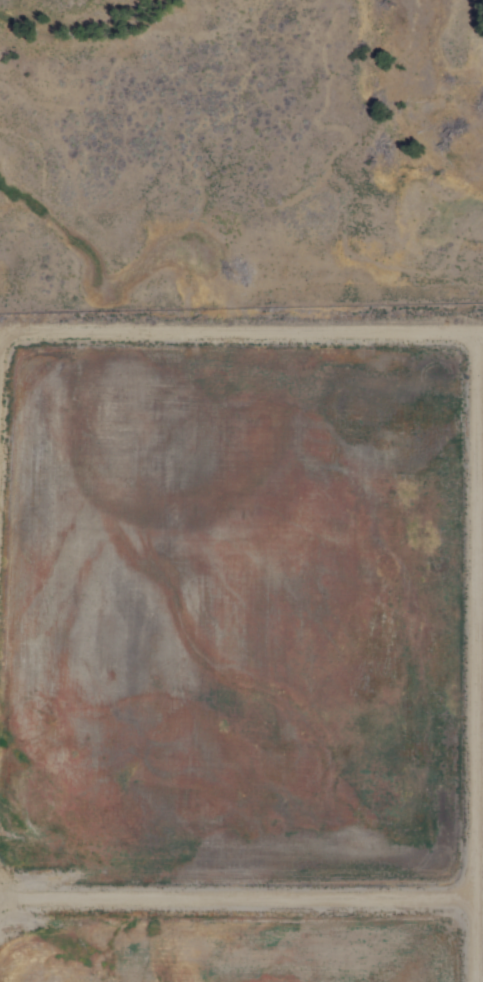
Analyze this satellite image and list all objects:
wastewater plant: (241, 664)

